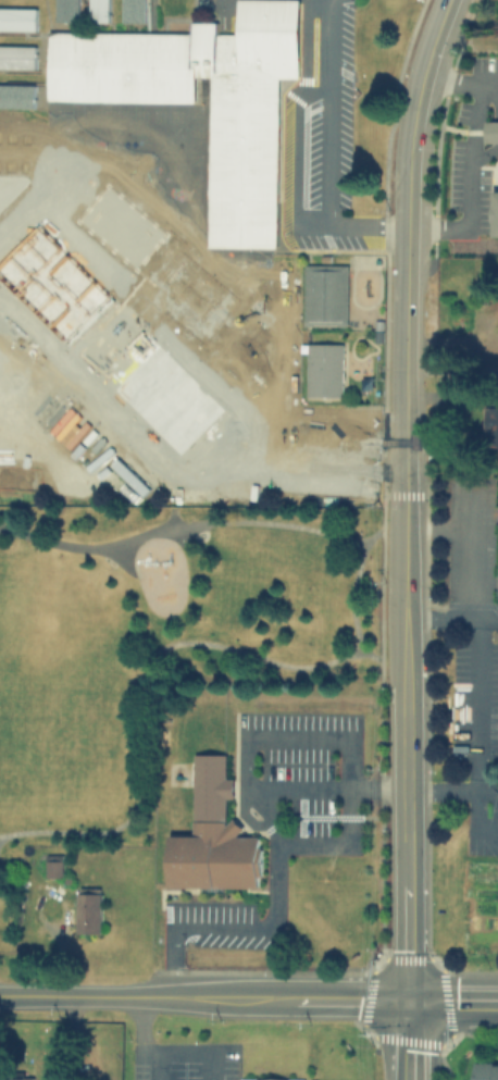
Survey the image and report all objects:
road: (278, 4)
building: (67, 10)
building: (98, 10)
building: (134, 10)
road: (440, 17)
building: (17, 18)
road: (197, 46)
road: (112, 47)
building: (17, 57)
road: (258, 64)
parking lot: (112, 73)
road: (490, 80)
building: (16, 95)
road: (495, 99)
road: (112, 101)
parking lot: (270, 112)
road: (259, 119)
building: (490, 129)
road: (497, 131)
road: (410, 144)
road: (470, 150)
road: (485, 151)
building: (13, 153)
road: (111, 153)
road: (242, 173)
building: (242, 174)
building: (127, 189)
building: (495, 212)
parking lot: (248, 236)
building: (325, 294)
road: (404, 294)
building: (133, 311)
building: (324, 369)
road: (451, 369)
road: (404, 412)
building: (491, 415)
parking lot: (311, 425)
road: (335, 431)
road: (234, 437)
road: (466, 502)
road: (202, 522)
road: (466, 543)
road: (404, 556)
power substation: (497, 576)
road: (351, 595)
road: (441, 620)
road: (489, 621)
road: (404, 644)
park: (152, 645)
road: (142, 667)
road: (478, 705)
road: (298, 735)
road: (406, 753)
parking lot: (301, 760)
road: (298, 786)
road: (377, 787)
road: (451, 789)
road: (349, 790)
road: (301, 815)
road: (245, 816)
road: (338, 816)
road: (276, 825)
building: (212, 835)
road: (313, 843)
building: (53, 864)
building: (88, 908)
road: (407, 918)
parking lot: (222, 923)
road: (219, 927)
road: (171, 960)
road: (71, 994)
road: (274, 997)
traffic signals: (408, 1001)
road: (452, 1001)
road: (142, 1031)
road: (407, 1040)
road: (198, 1052)
road: (159, 1066)
building: (485, 1070)
building: (16, 1078)
building: (260, 1079)

